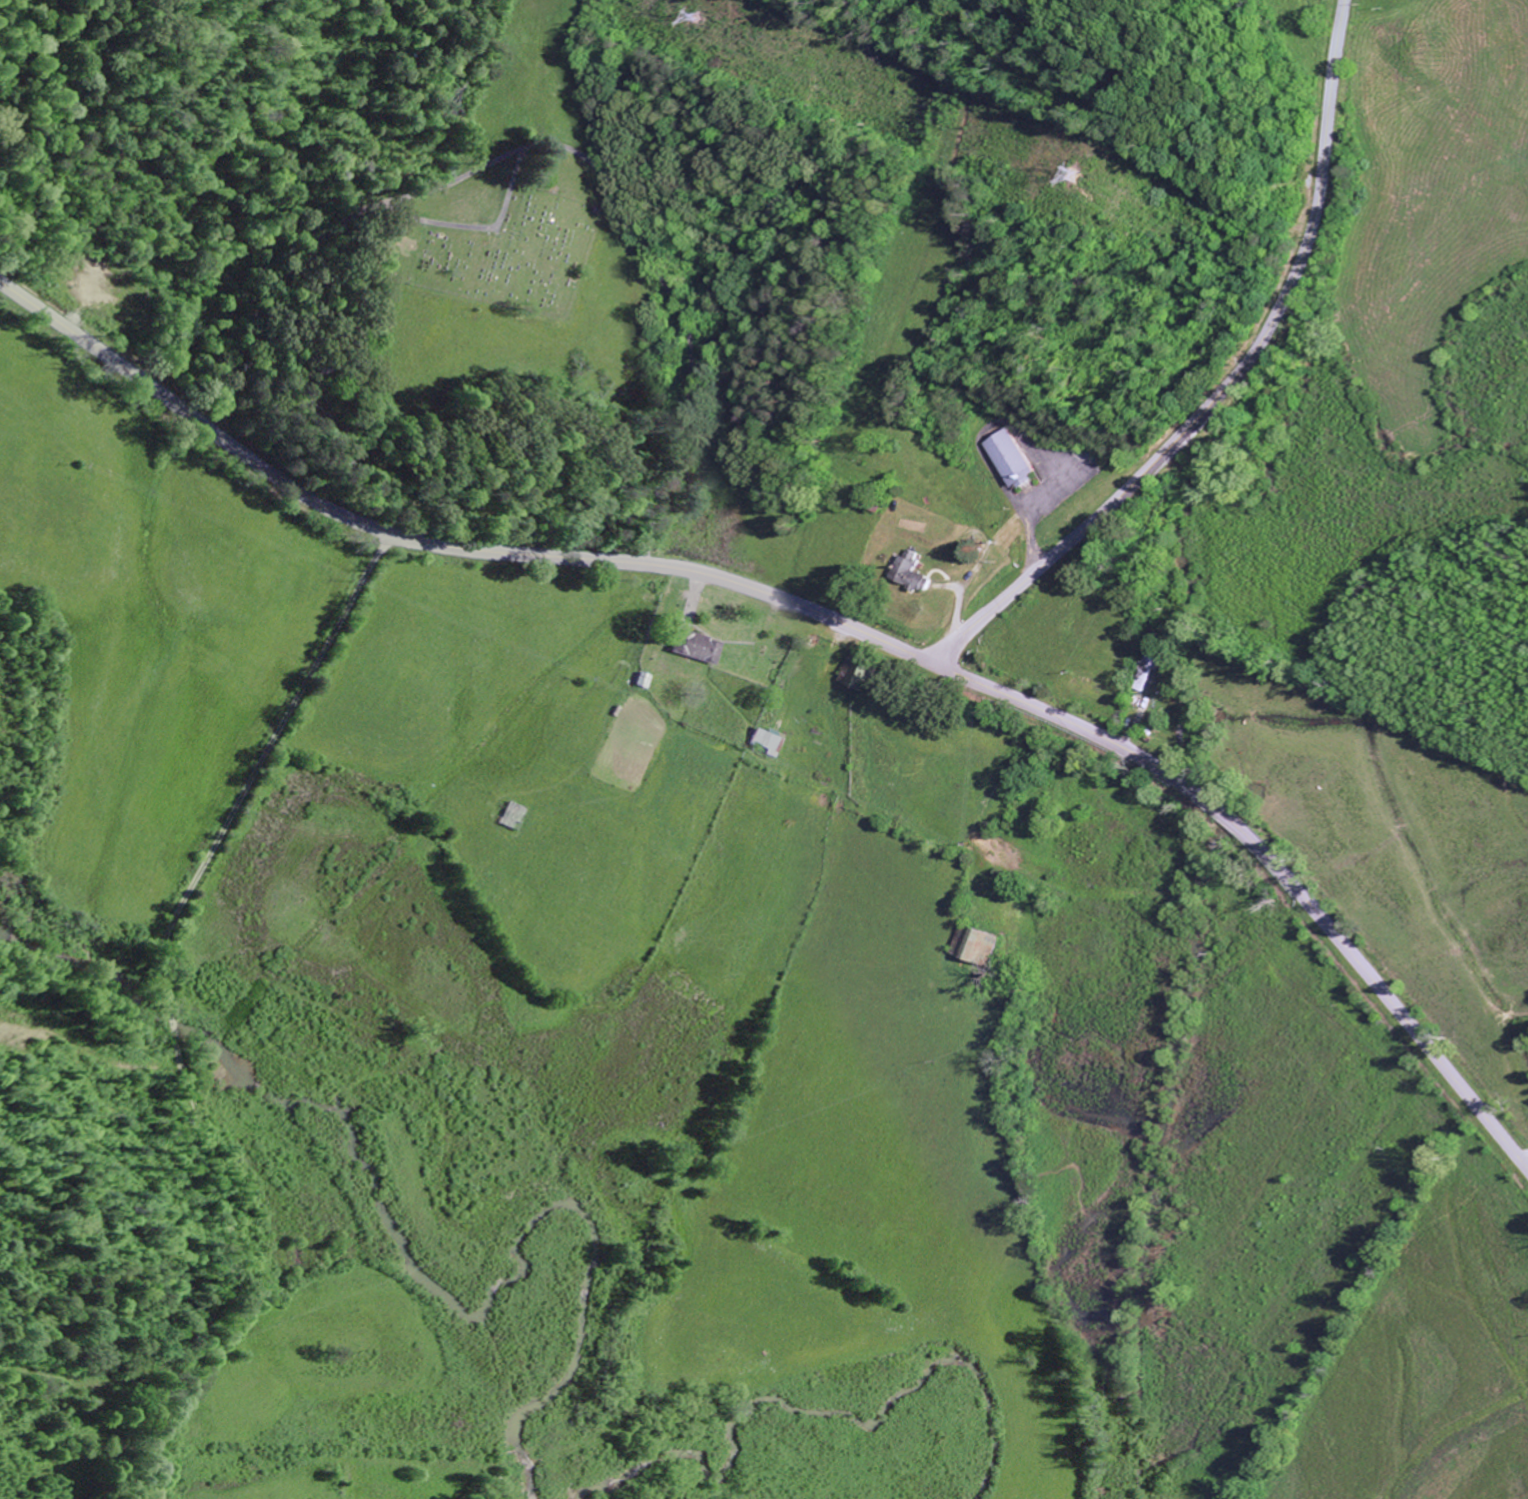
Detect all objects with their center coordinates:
road: (592, 164)
road: (1222, 382)
building: (1012, 460)
road: (644, 544)
building: (912, 574)
road: (827, 618)
building: (700, 646)
building: (1151, 664)
building: (771, 741)
building: (514, 816)
building: (984, 945)
road: (173, 1012)

